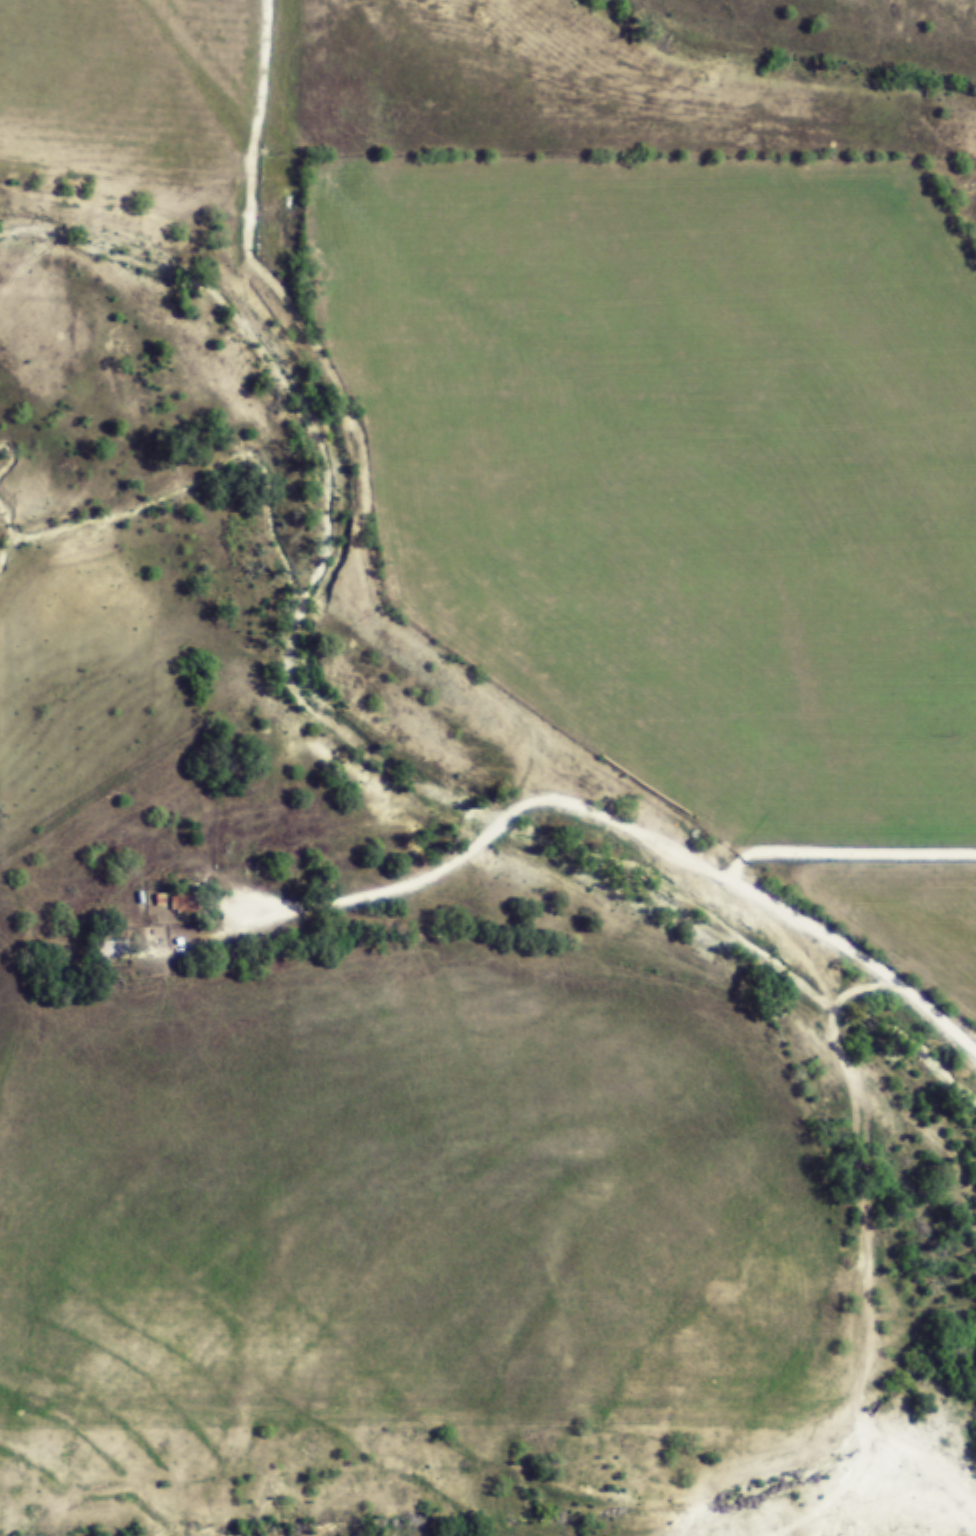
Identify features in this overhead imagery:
road: (420, 637)
road: (439, 874)
building: (188, 903)
building: (116, 947)
road: (863, 1110)

